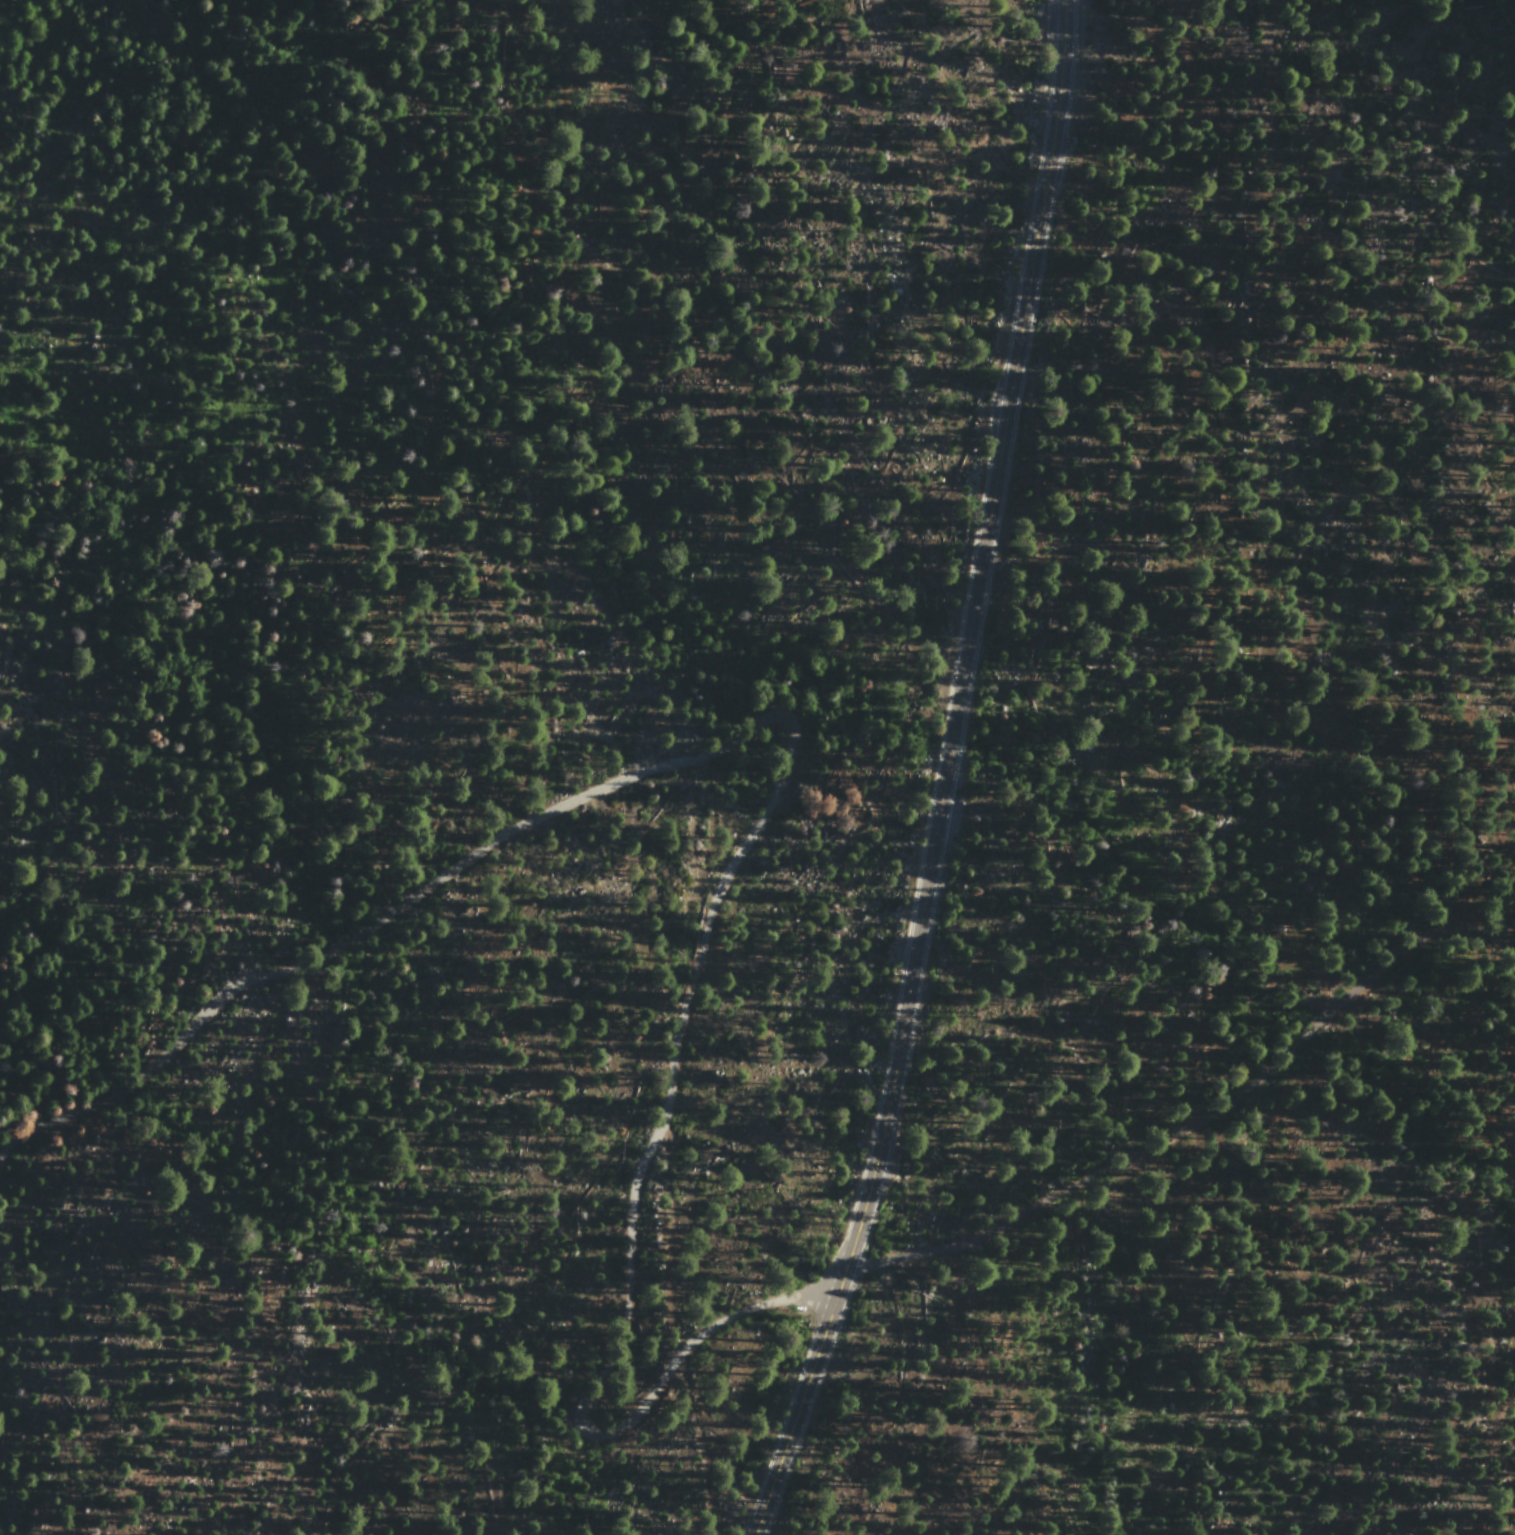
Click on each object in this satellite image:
road: (1010, 378)
road: (945, 765)
road: (776, 787)
road: (1203, 1112)
road: (875, 1162)

